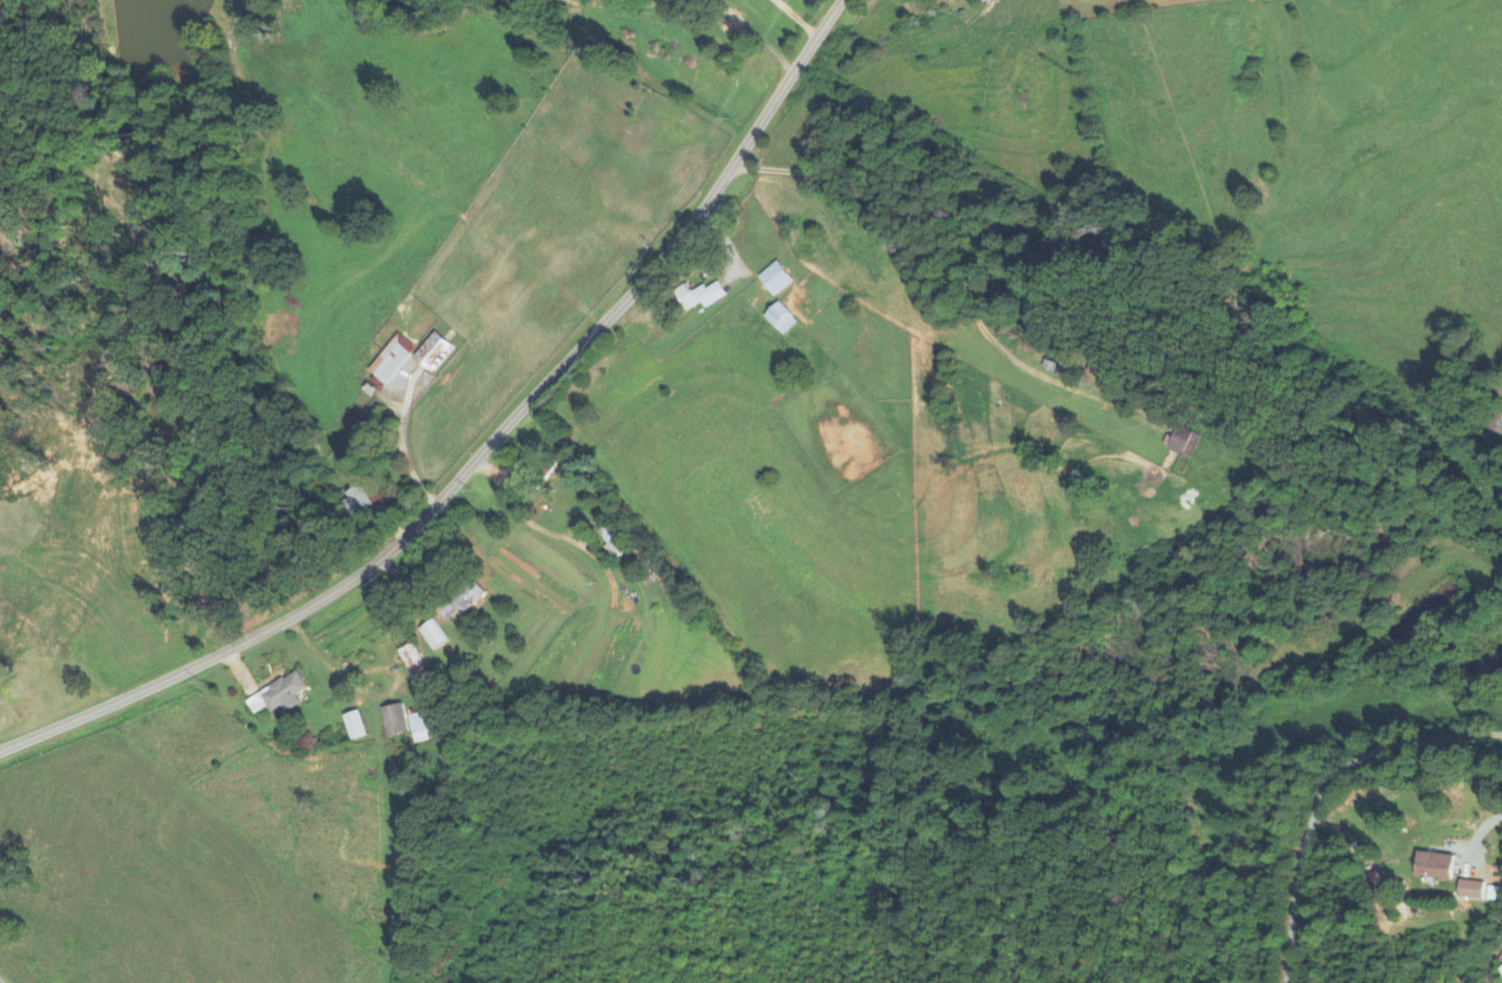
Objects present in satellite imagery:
road: (793, 18)
road: (752, 33)
road: (944, 252)
building: (775, 279)
building: (699, 296)
building: (780, 319)
building: (433, 353)
building: (392, 360)
building: (1097, 372)
building: (1494, 423)
building: (1185, 442)
road: (479, 445)
building: (356, 502)
road: (542, 529)
building: (462, 601)
building: (432, 635)
building: (414, 664)
building: (279, 695)
building: (395, 721)
building: (354, 726)
building: (422, 727)
road: (1321, 791)
road: (1480, 829)
building: (1434, 866)
building: (1470, 890)
building: (1493, 894)
building: (1500, 970)

